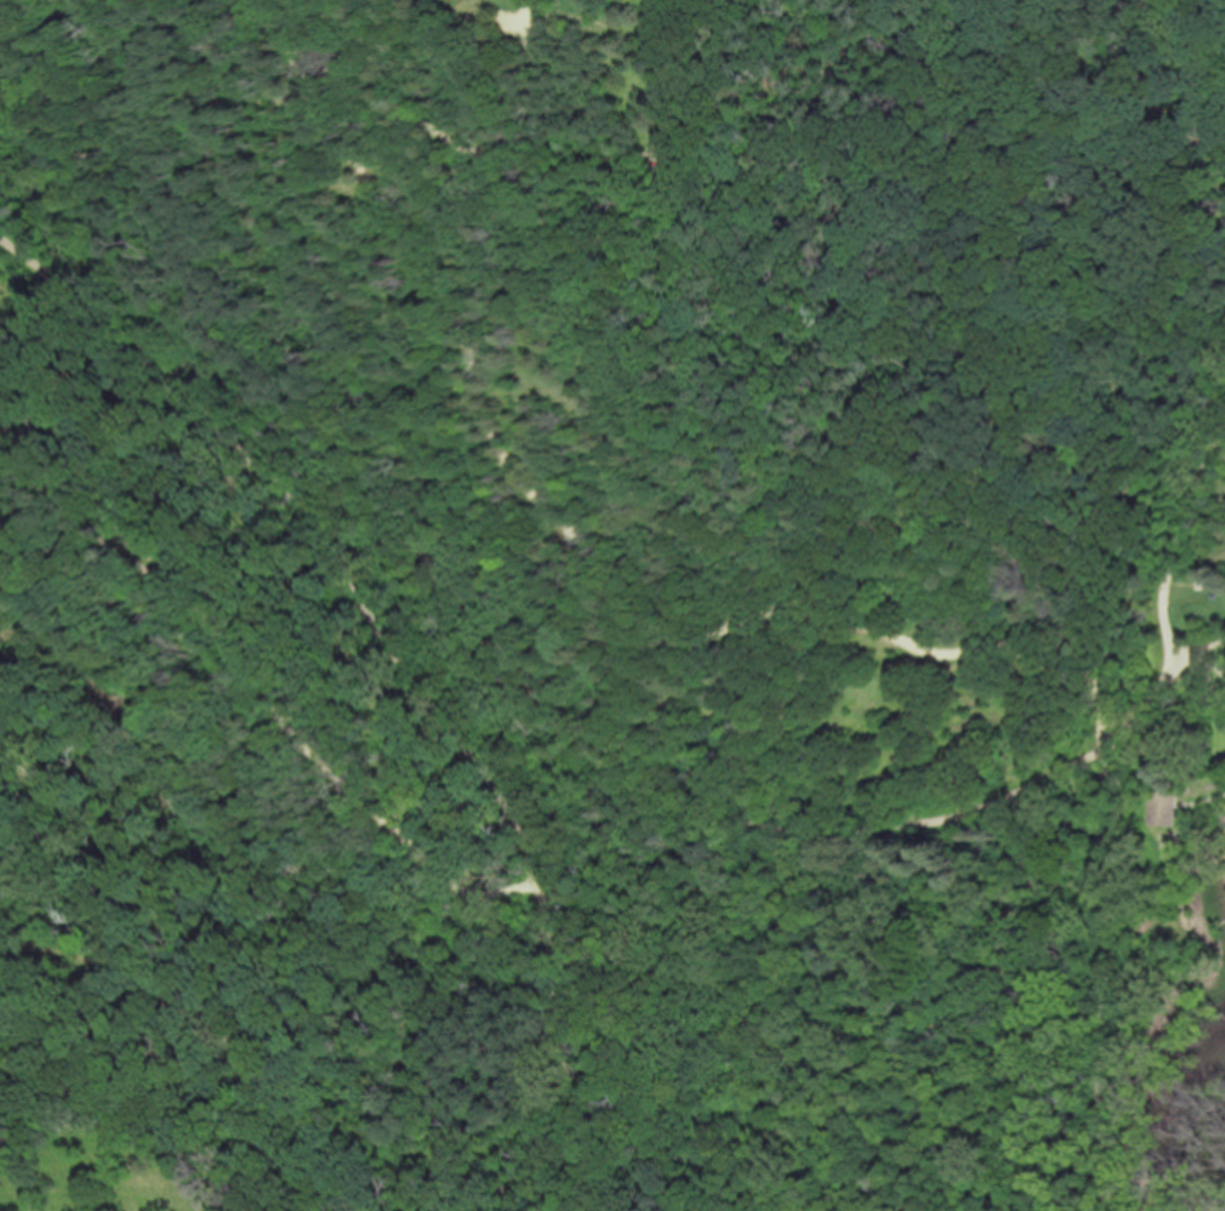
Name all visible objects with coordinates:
road: (488, 421)
road: (1162, 582)
park: (612, 605)
road: (488, 629)
road: (1200, 646)
road: (398, 669)
road: (283, 693)
road: (1047, 857)
road: (1104, 973)
road: (756, 1037)
road: (993, 1078)

